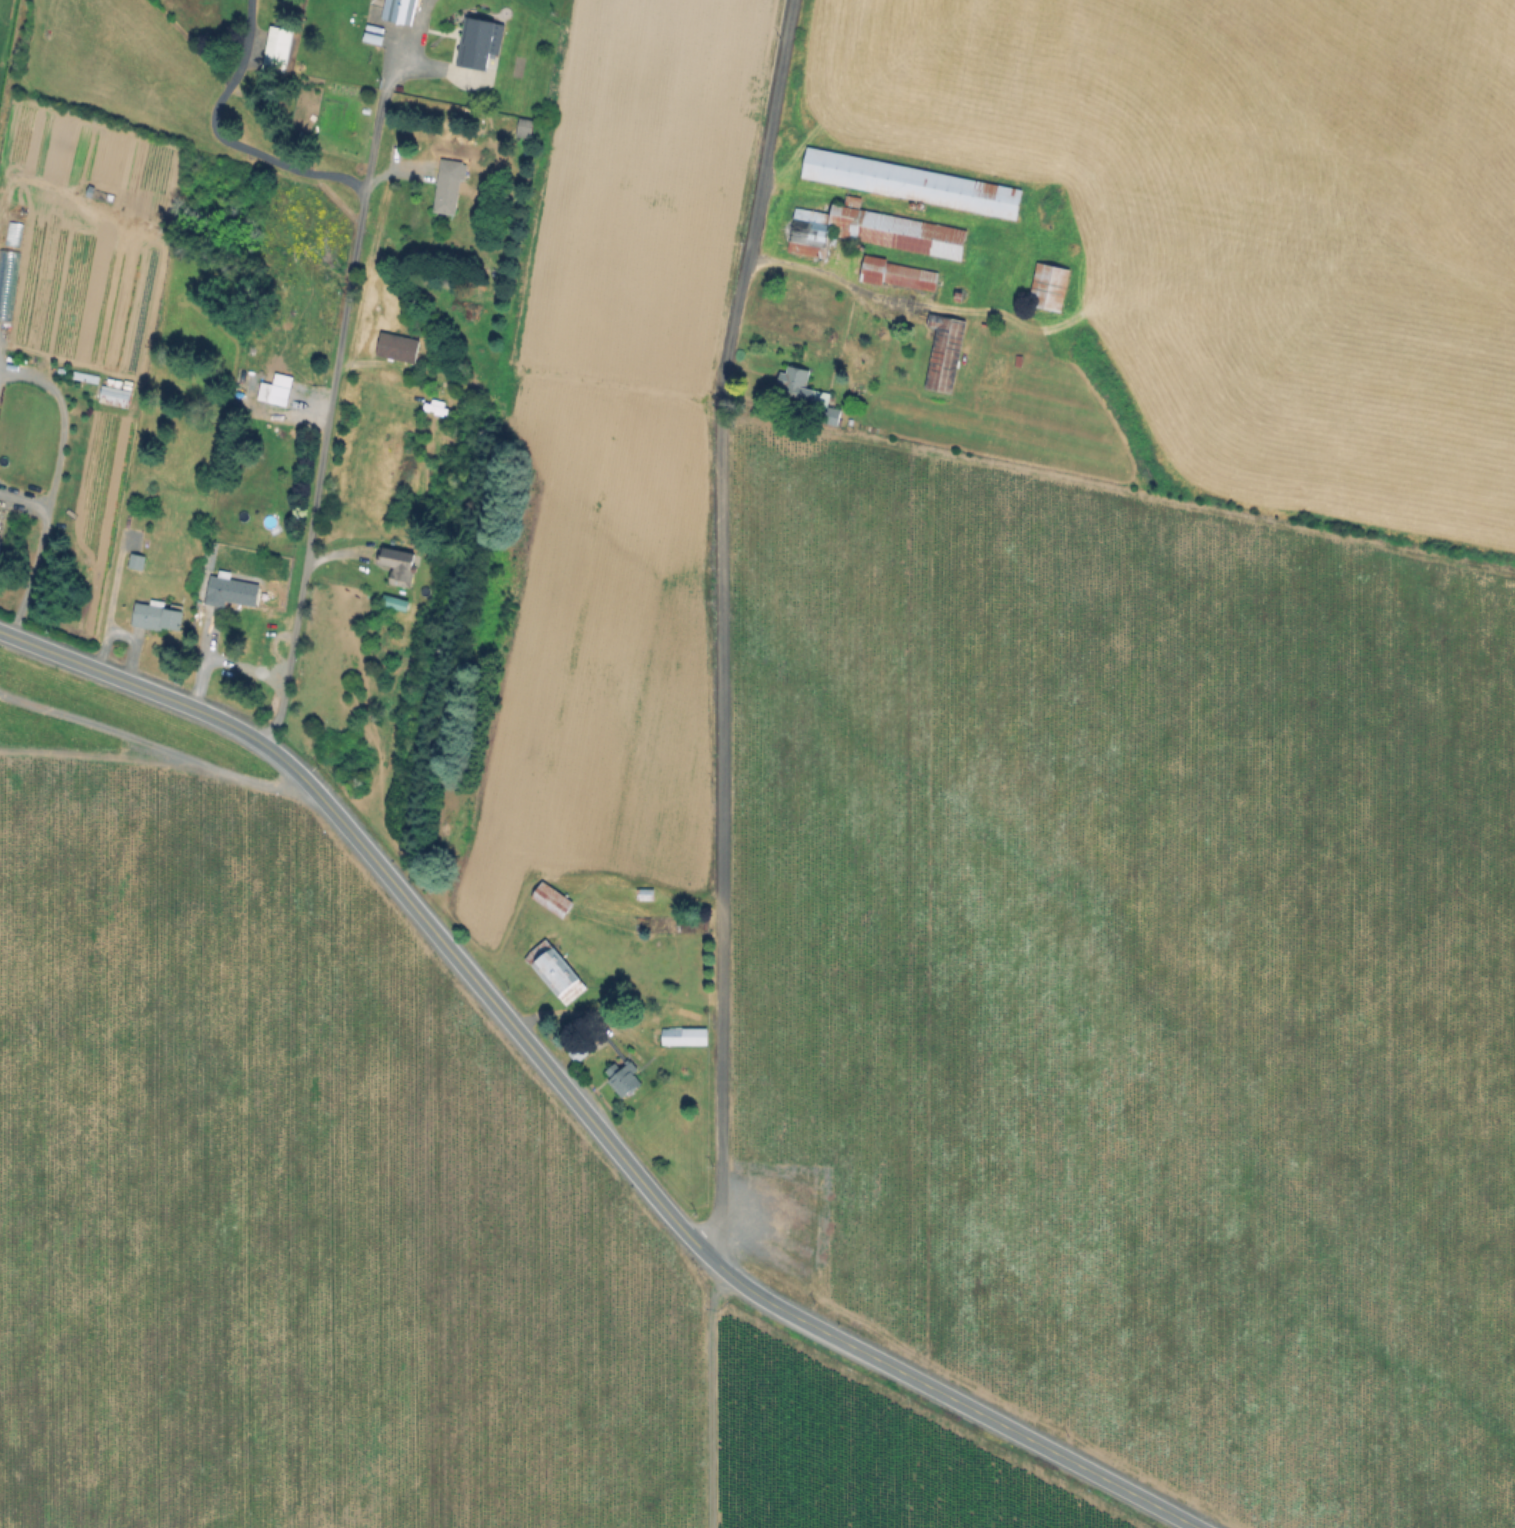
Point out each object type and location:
building: (401, 11)
building: (480, 42)
building: (277, 48)
road: (379, 111)
building: (522, 131)
building: (909, 185)
building: (447, 193)
road: (359, 225)
building: (869, 234)
building: (897, 277)
building: (1047, 289)
building: (959, 297)
building: (398, 347)
building: (945, 352)
building: (808, 393)
building: (280, 395)
road: (45, 487)
road: (21, 497)
building: (137, 561)
building: (399, 565)
building: (231, 591)
building: (396, 602)
building: (157, 616)
road: (720, 624)
road: (290, 657)
building: (646, 894)
building: (554, 899)
building: (557, 972)
building: (685, 1036)
building: (581, 1051)
building: (624, 1078)
road: (576, 1100)
road: (702, 1389)

